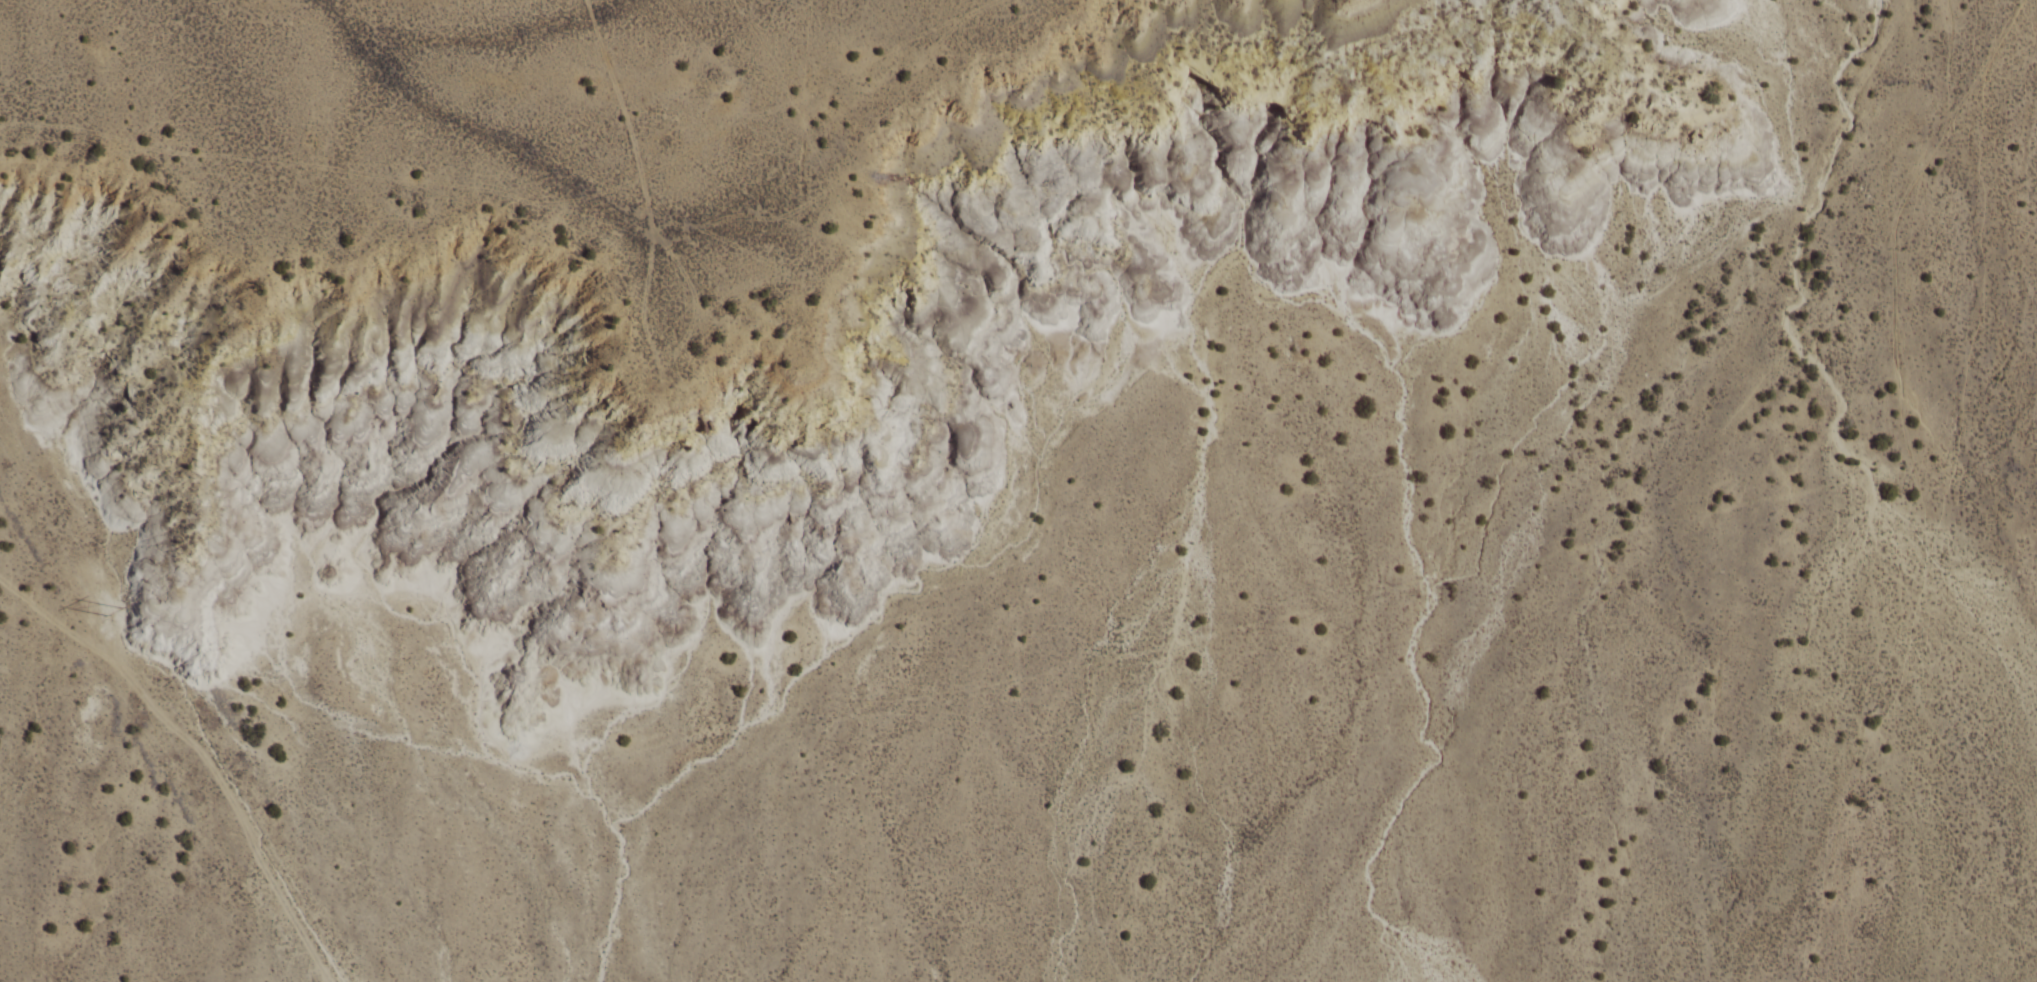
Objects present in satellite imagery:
power tower: (120, 620)

